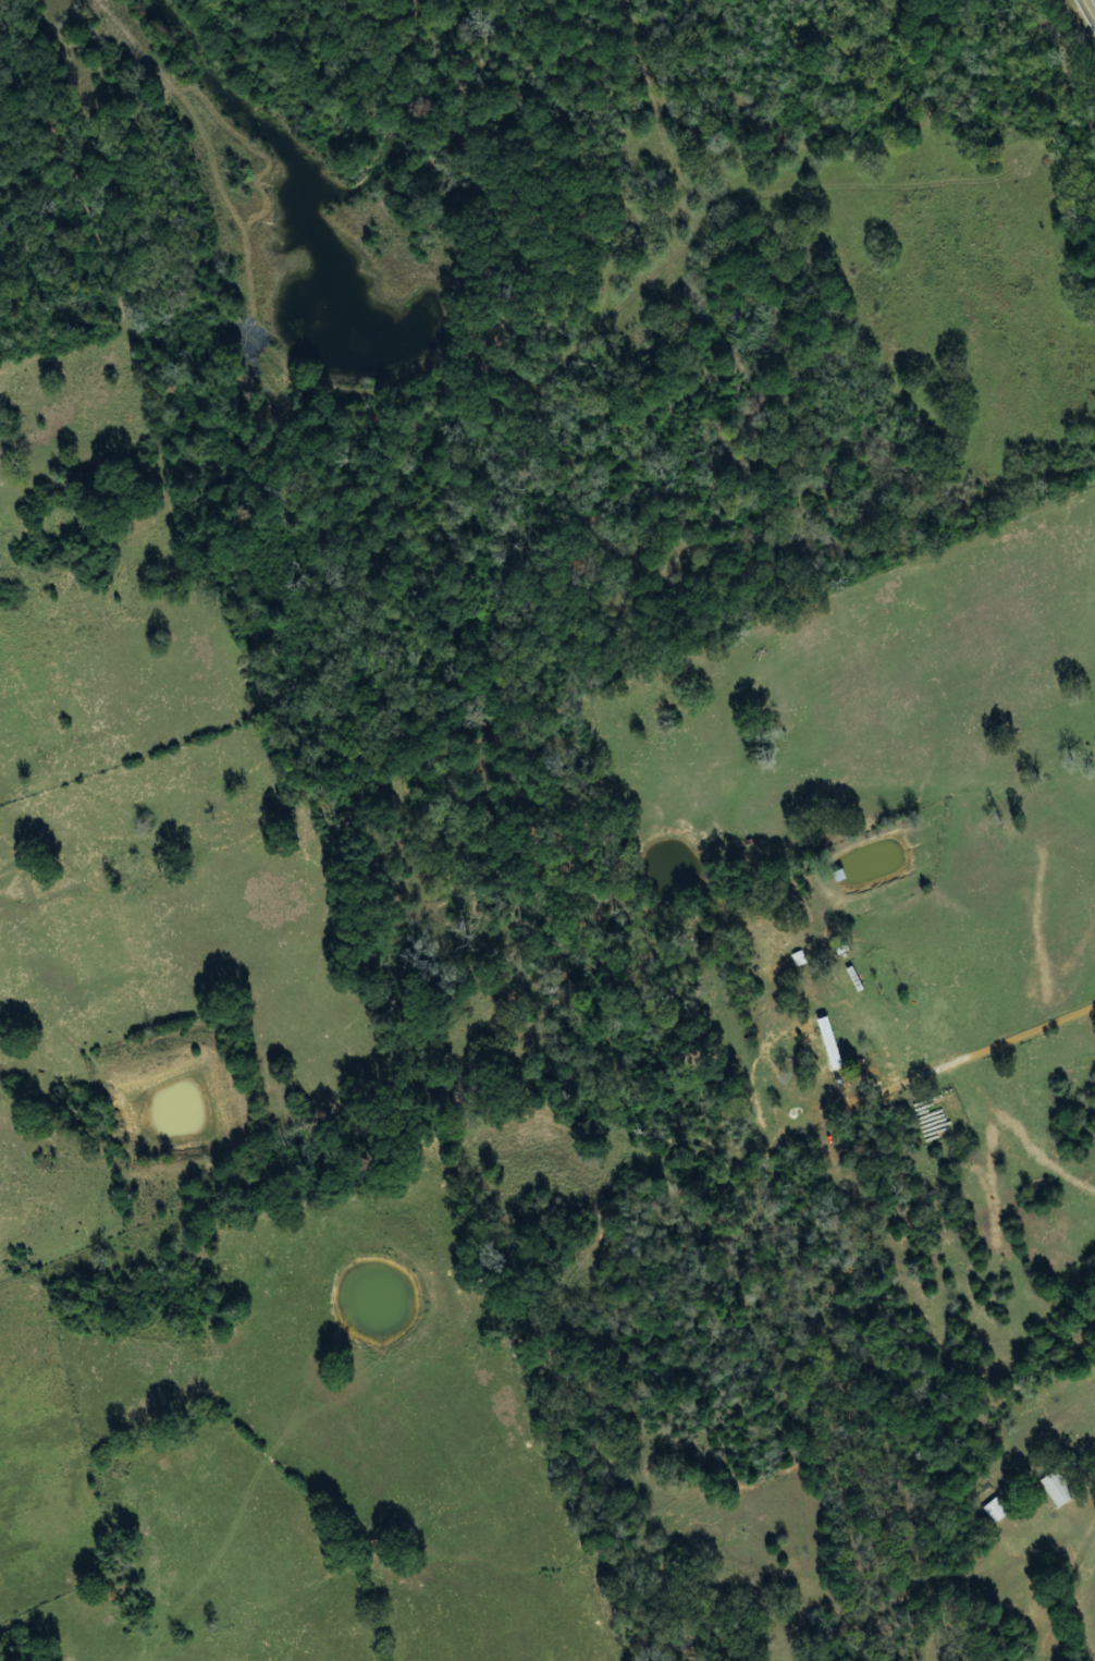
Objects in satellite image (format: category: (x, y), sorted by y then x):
road: (1090, 8)
road: (951, 1010)
building: (1060, 1488)

